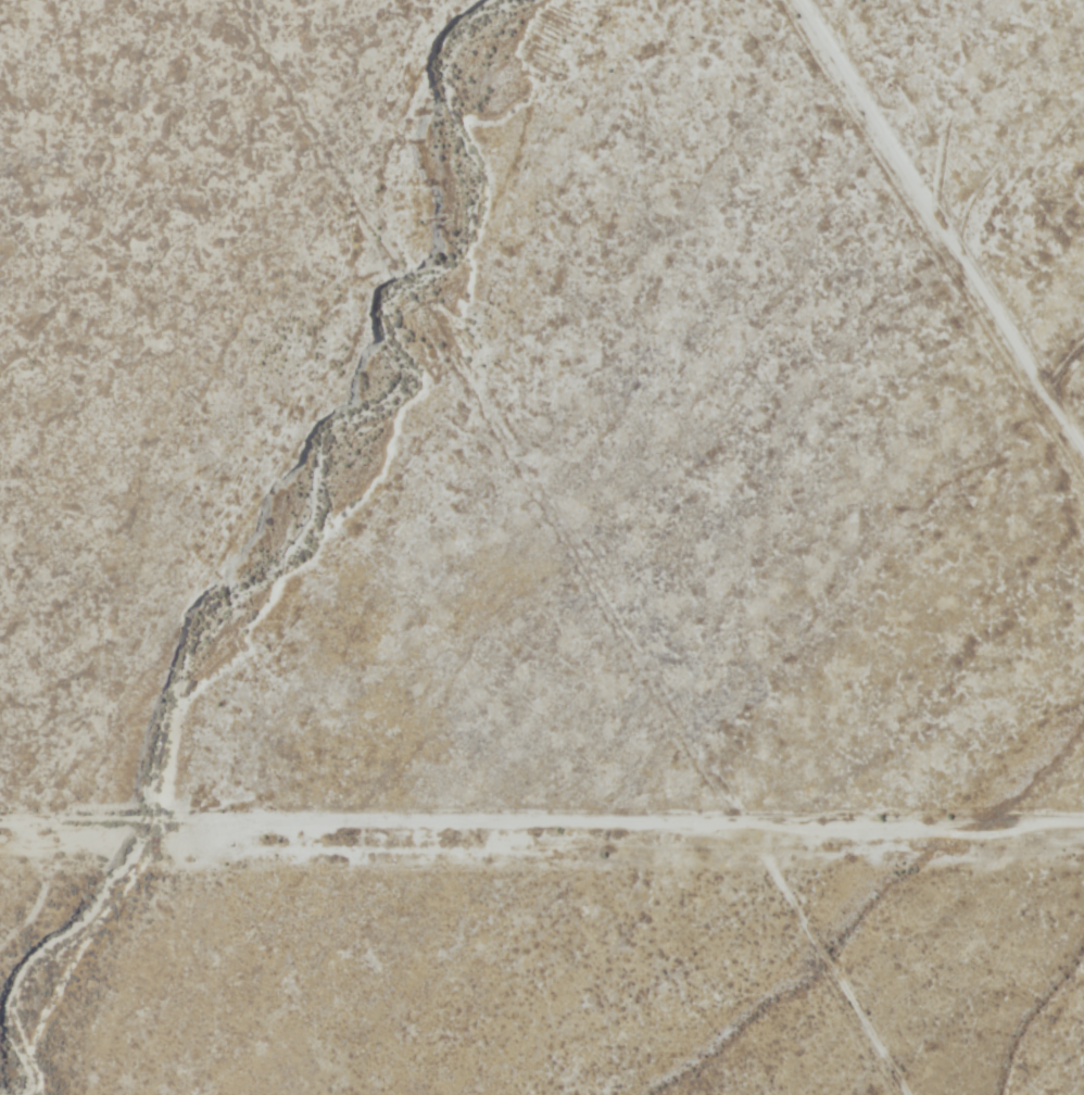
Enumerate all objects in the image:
road: (922, 248)

